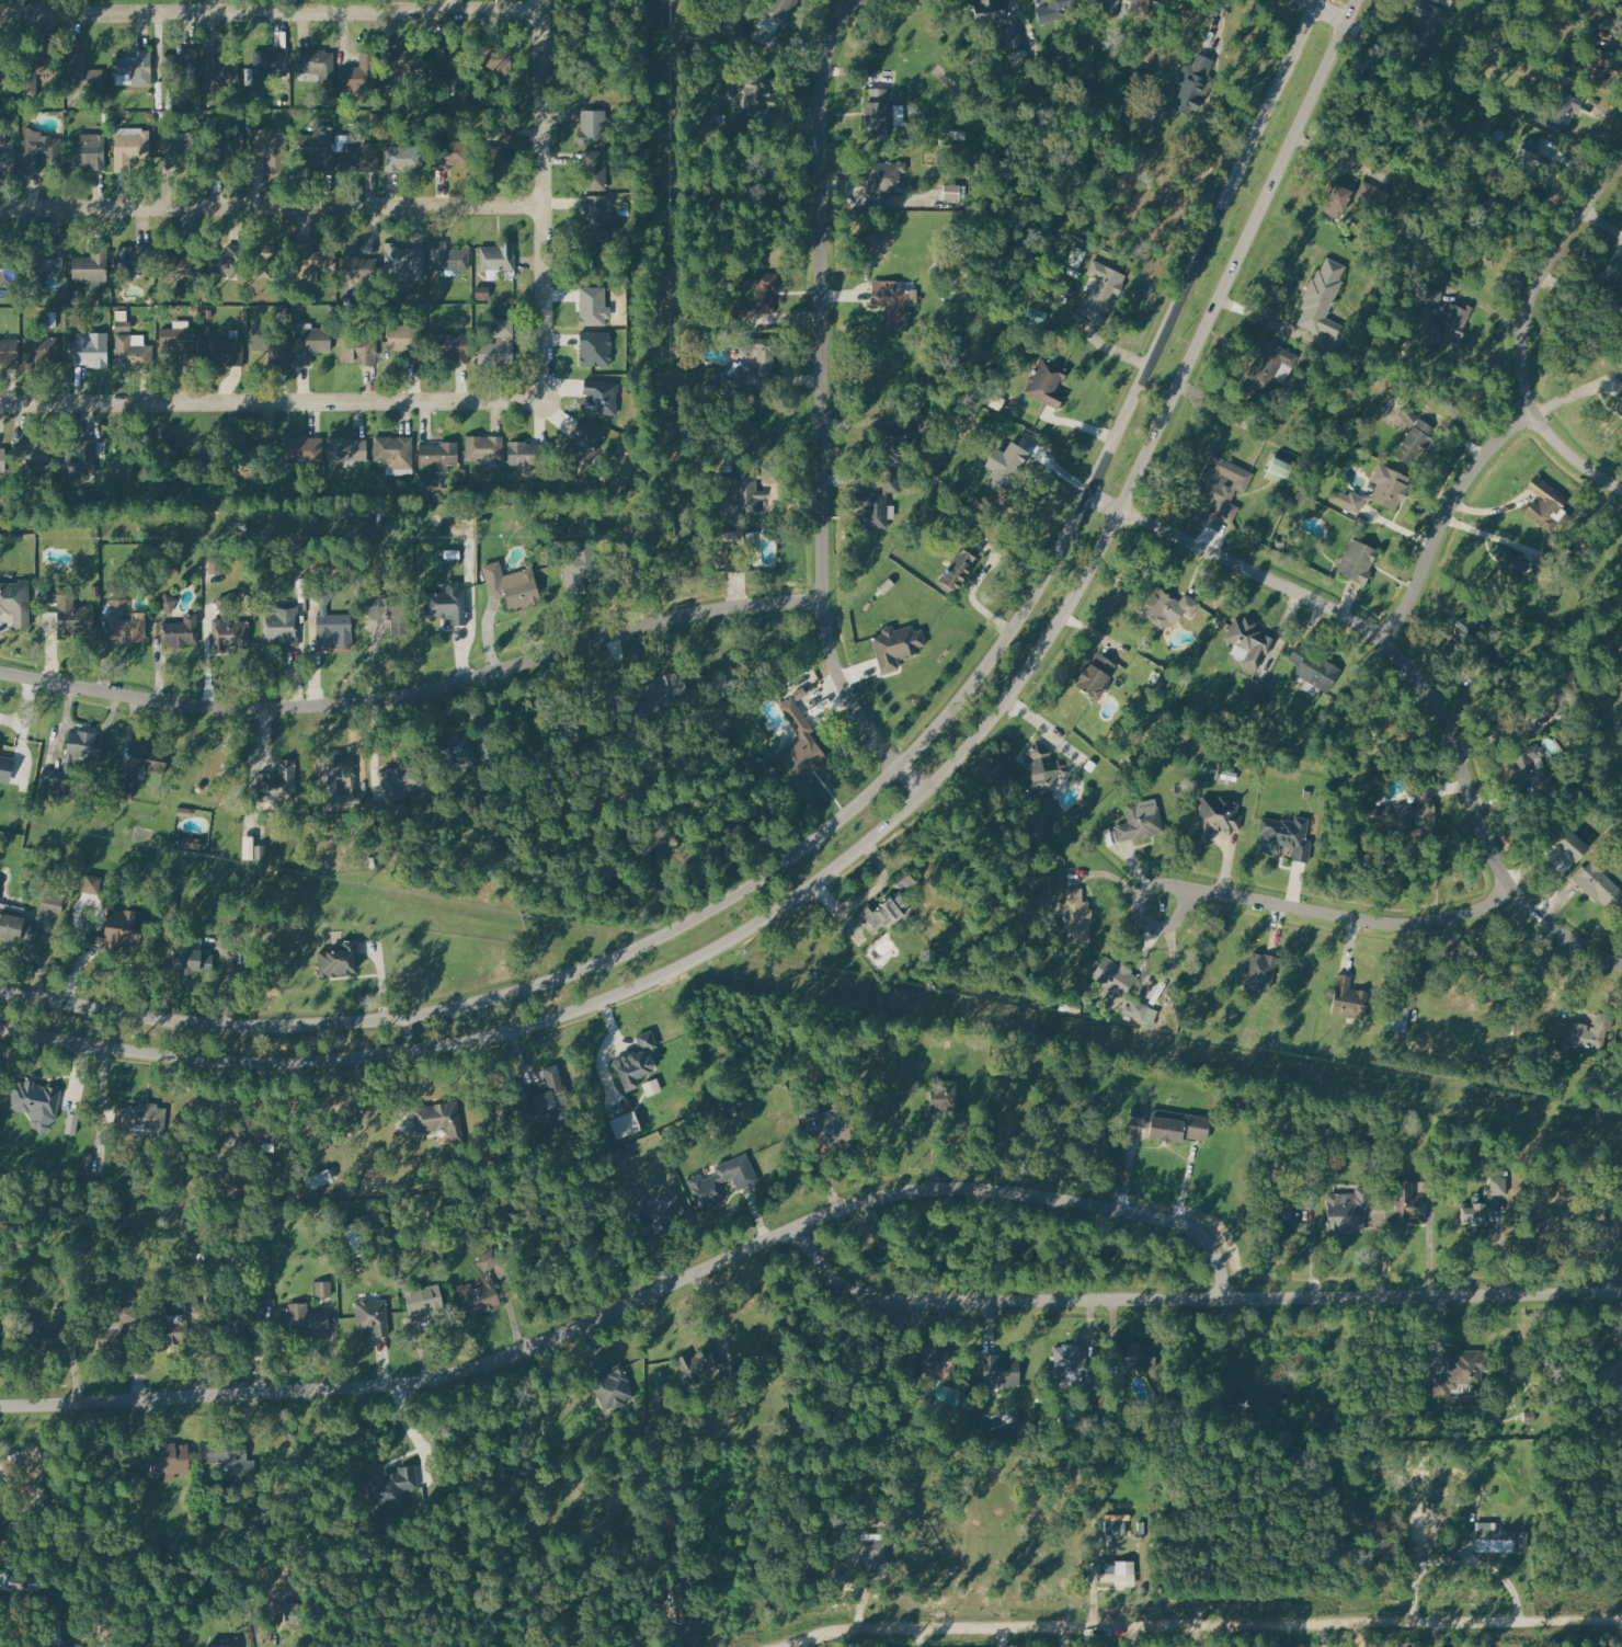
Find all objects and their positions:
building: (1139, 7)
building: (779, 10)
road: (271, 12)
building: (1058, 12)
road: (1324, 12)
building: (998, 21)
building: (1428, 25)
building: (270, 59)
building: (400, 59)
building: (496, 62)
building: (1590, 62)
building: (5, 64)
building: (317, 64)
building: (181, 65)
building: (445, 65)
building: (137, 67)
building: (214, 67)
building: (35, 70)
building: (83, 73)
building: (358, 73)
building: (1192, 81)
building: (501, 85)
building: (764, 96)
building: (1564, 110)
building: (877, 112)
building: (593, 126)
building: (343, 142)
building: (269, 145)
building: (318, 147)
building: (39, 148)
building: (130, 149)
building: (179, 150)
building: (89, 151)
building: (447, 153)
building: (225, 155)
building: (361, 157)
building: (398, 158)
building: (8, 161)
building: (498, 162)
building: (594, 170)
building: (886, 176)
building: (1338, 196)
road: (541, 199)
road: (271, 206)
building: (597, 214)
road: (1603, 224)
building: (449, 255)
building: (48, 256)
building: (498, 256)
building: (135, 258)
building: (262, 258)
building: (311, 259)
building: (225, 261)
building: (92, 263)
building: (357, 263)
building: (405, 263)
building: (181, 266)
building: (7, 267)
road: (1544, 276)
road: (1591, 282)
building: (763, 288)
building: (1619, 288)
building: (482, 294)
building: (1324, 294)
building: (1103, 295)
building: (1430, 296)
building: (894, 301)
building: (592, 307)
building: (740, 310)
road: (1265, 318)
building: (1451, 322)
building: (405, 340)
building: (272, 342)
building: (311, 343)
building: (180, 344)
building: (499, 344)
building: (453, 346)
building: (359, 347)
building: (93, 350)
building: (595, 350)
building: (39, 351)
building: (226, 352)
building: (764, 352)
building: (9, 353)
building: (135, 353)
building: (1266, 368)
building: (740, 375)
building: (1047, 381)
building: (601, 397)
building: (1619, 402)
road: (272, 403)
road: (820, 409)
building: (1414, 441)
building: (895, 442)
building: (584, 443)
building: (484, 447)
building: (304, 449)
building: (349, 449)
building: (395, 450)
building: (31, 451)
building: (258, 451)
building: (438, 453)
building: (529, 453)
road: (1570, 458)
building: (2, 459)
building: (80, 459)
building: (1005, 465)
building: (1278, 469)
building: (1224, 484)
building: (1389, 484)
building: (742, 491)
building: (1348, 501)
building: (877, 504)
building: (1547, 505)
road: (1444, 516)
building: (378, 519)
building: (461, 519)
building: (483, 519)
building: (506, 526)
building: (298, 552)
building: (736, 558)
building: (318, 561)
building: (1358, 561)
building: (1511, 565)
building: (582, 568)
building: (959, 569)
building: (512, 584)
building: (322, 595)
building: (15, 599)
building: (118, 599)
building: (448, 602)
building: (168, 603)
building: (227, 603)
building: (1165, 604)
building: (391, 609)
building: (69, 613)
building: (282, 626)
building: (128, 627)
building: (182, 630)
building: (334, 630)
building: (1465, 631)
building: (229, 632)
building: (1250, 641)
building: (896, 645)
building: (1315, 667)
road: (1412, 673)
building: (1096, 675)
road: (413, 686)
building: (662, 695)
building: (1553, 701)
road: (26, 713)
road: (84, 729)
building: (801, 741)
building: (84, 744)
building: (456, 748)
building: (149, 758)
building: (1523, 760)
building: (335, 763)
building: (1043, 768)
building: (5, 769)
building: (489, 773)
building: (401, 780)
building: (278, 782)
building: (52, 787)
building: (122, 790)
building: (357, 799)
road: (866, 800)
building: (1412, 811)
building: (399, 812)
building: (184, 813)
building: (1218, 817)
building: (1140, 821)
road: (891, 823)
building: (1287, 835)
building: (191, 842)
building: (1570, 846)
building: (260, 851)
road: (1552, 869)
building: (909, 882)
building: (1598, 883)
building: (91, 884)
building: (52, 902)
building: (883, 911)
building: (1077, 915)
road: (1337, 915)
road: (102, 919)
building: (18, 927)
building: (123, 929)
building: (193, 957)
building: (339, 959)
building: (1261, 970)
building: (1115, 975)
road: (381, 977)
building: (1349, 998)
building: (1142, 1011)
building: (1398, 1018)
building: (1588, 1032)
road: (608, 1050)
building: (637, 1060)
road: (81, 1071)
building: (1520, 1073)
building: (652, 1086)
building: (547, 1096)
building: (36, 1100)
building: (949, 1102)
road: (108, 1109)
building: (724, 1112)
building: (1138, 1116)
building: (141, 1117)
building: (441, 1118)
building: (841, 1118)
building: (811, 1121)
building: (626, 1123)
building: (71, 1124)
building: (1178, 1125)
building: (253, 1128)
building: (1431, 1167)
building: (319, 1178)
building: (705, 1180)
building: (353, 1185)
building: (1500, 1185)
building: (1599, 1189)
building: (1310, 1199)
building: (1408, 1201)
building: (1284, 1210)
building: (650, 1211)
building: (1348, 1211)
building: (1478, 1212)
building: (1613, 1215)
building: (354, 1239)
road: (1382, 1245)
building: (323, 1246)
building: (382, 1251)
building: (490, 1259)
building: (323, 1288)
building: (190, 1295)
road: (641, 1295)
building: (480, 1296)
road: (1193, 1299)
building: (426, 1301)
building: (261, 1305)
building: (64, 1312)
building: (127, 1313)
building: (374, 1315)
building: (306, 1320)
building: (169, 1327)
building: (238, 1331)
building: (39, 1334)
building: (107, 1334)
building: (1135, 1354)
building: (1067, 1360)
building: (937, 1361)
building: (700, 1363)
building: (1467, 1366)
building: (1002, 1371)
building: (615, 1388)
building: (228, 1453)
building: (169, 1459)
building: (392, 1489)
building: (1124, 1525)
building: (1495, 1539)
road: (1459, 1558)
building: (1118, 1572)
building: (14, 1582)
building: (684, 1603)
road: (1193, 1622)
building: (58, 1633)
road: (806, 1642)
building: (216, 1646)

